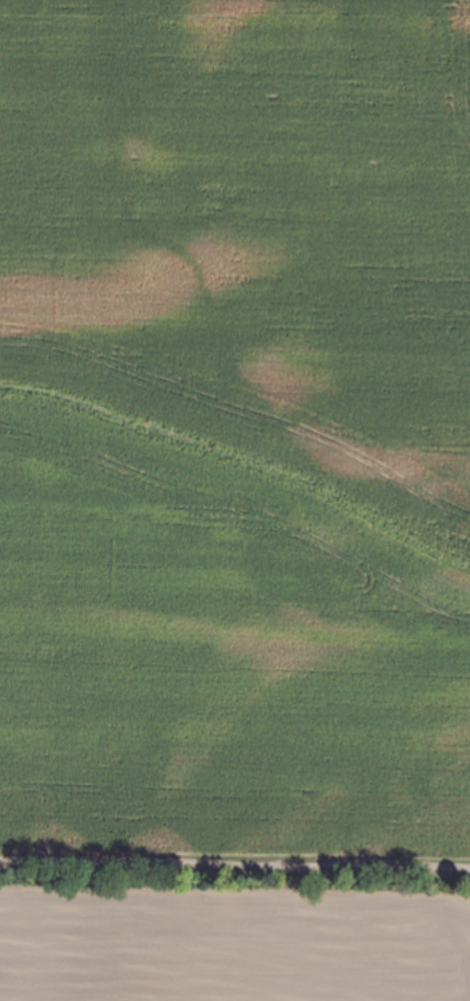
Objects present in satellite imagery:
road: (234, 865)

